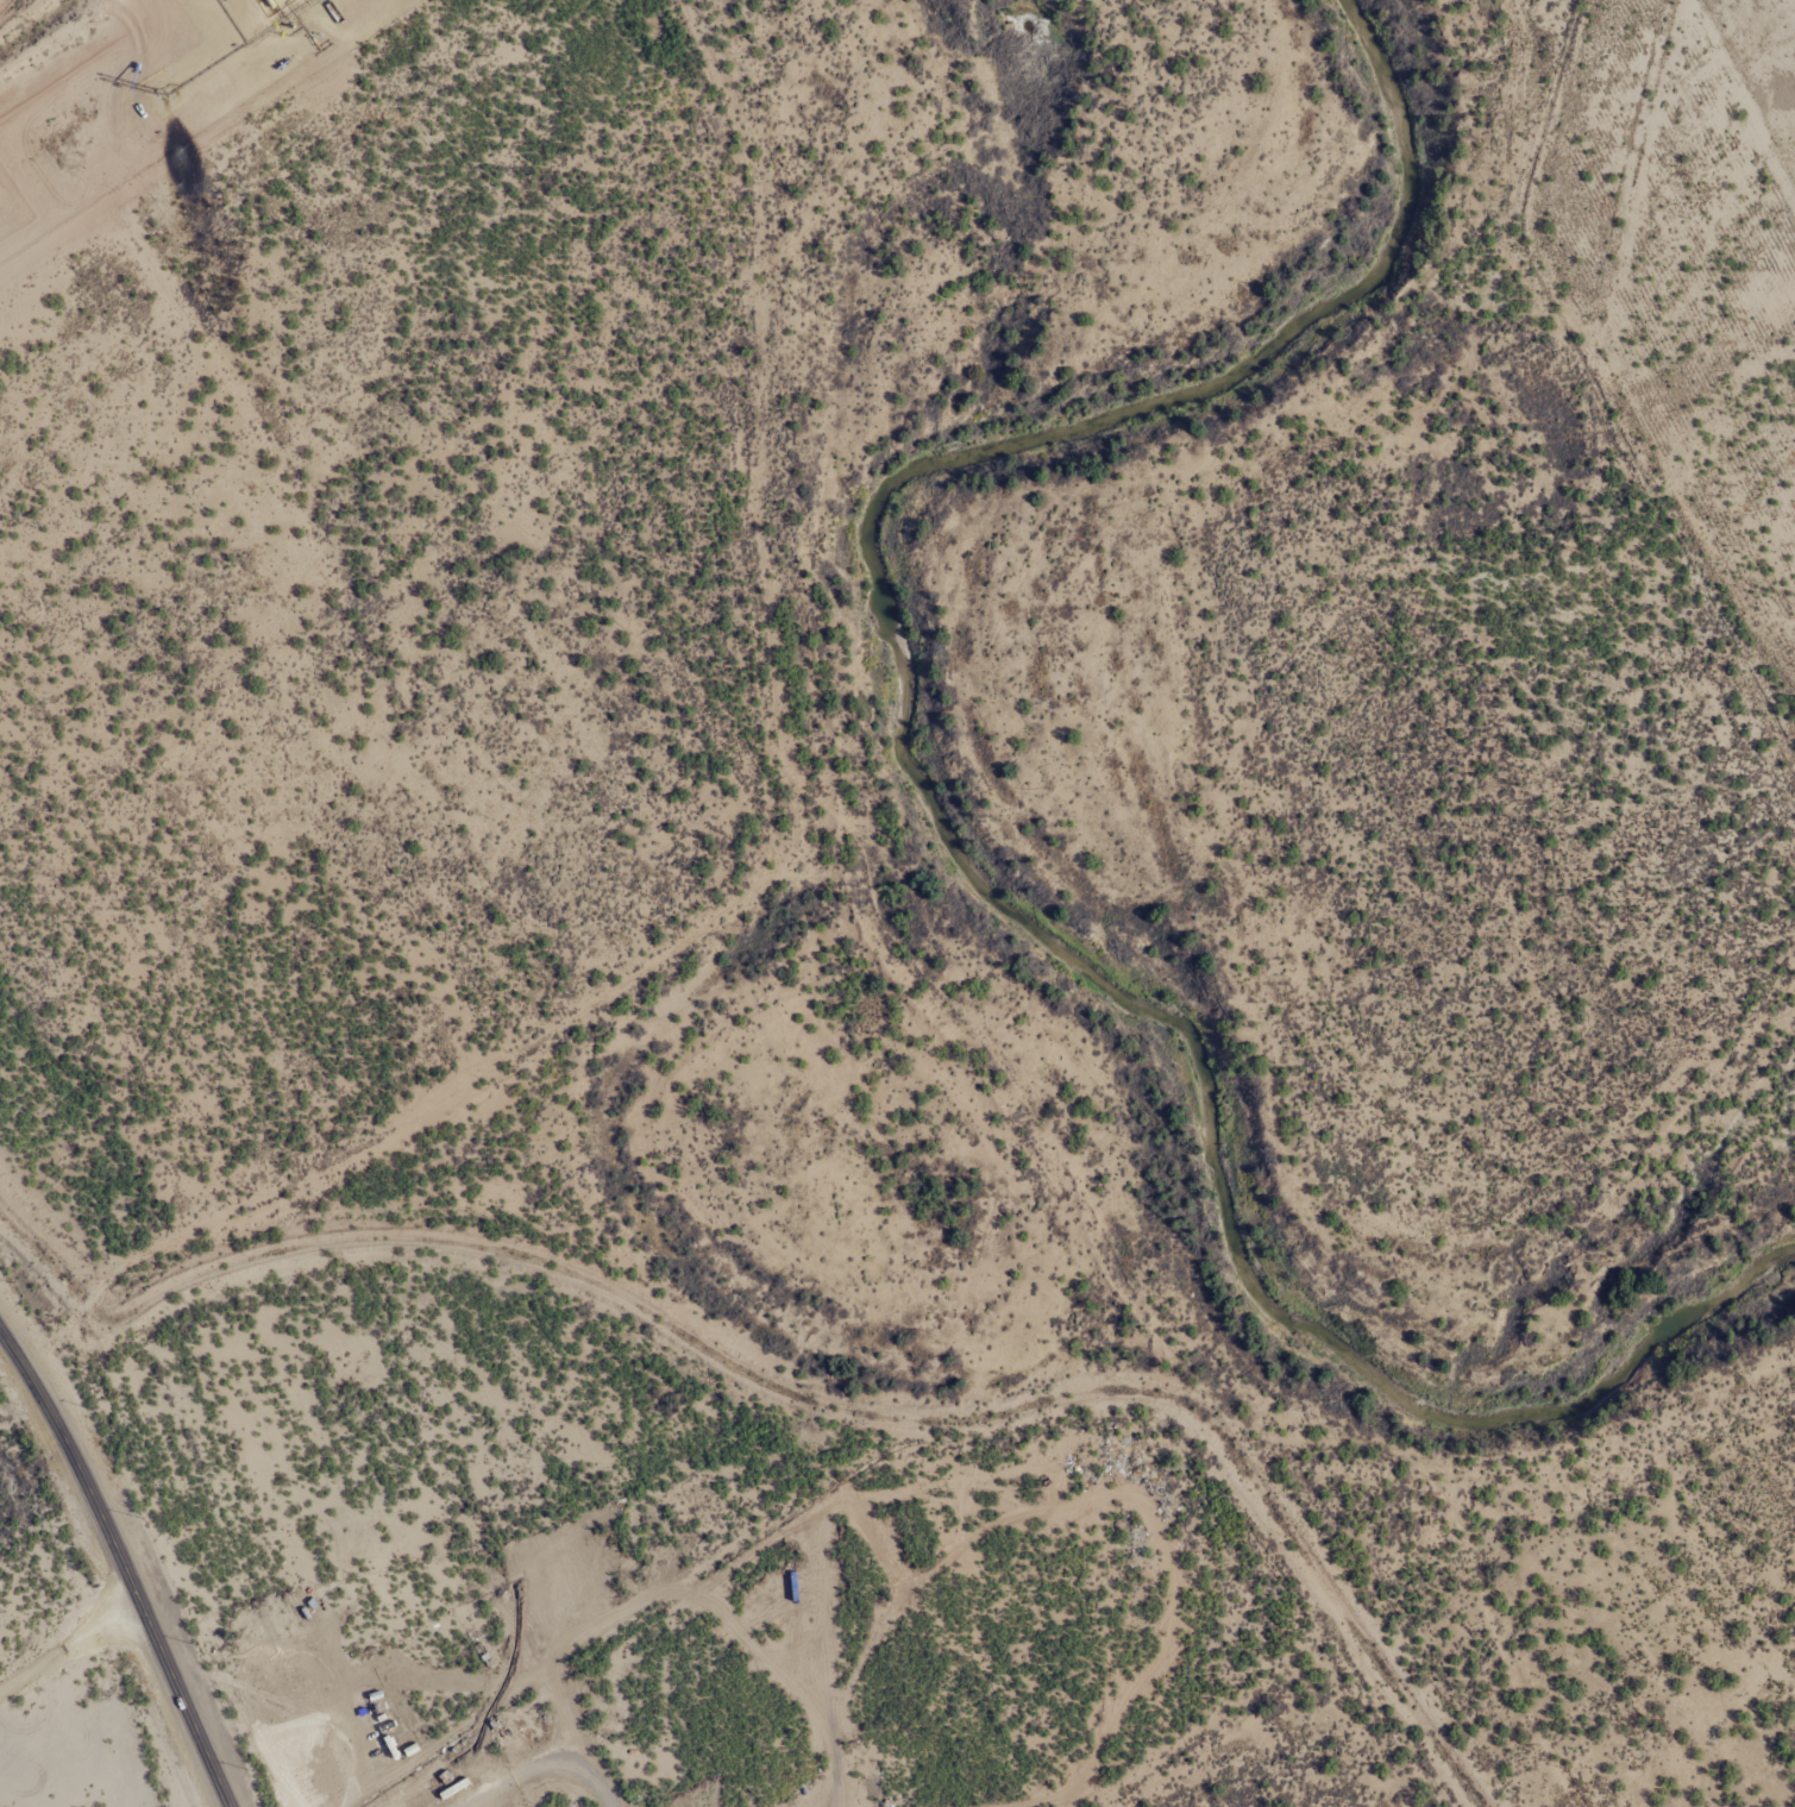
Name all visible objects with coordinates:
road: (1633, 333)
river: (1046, 810)
road: (20, 1401)
road: (121, 1564)

